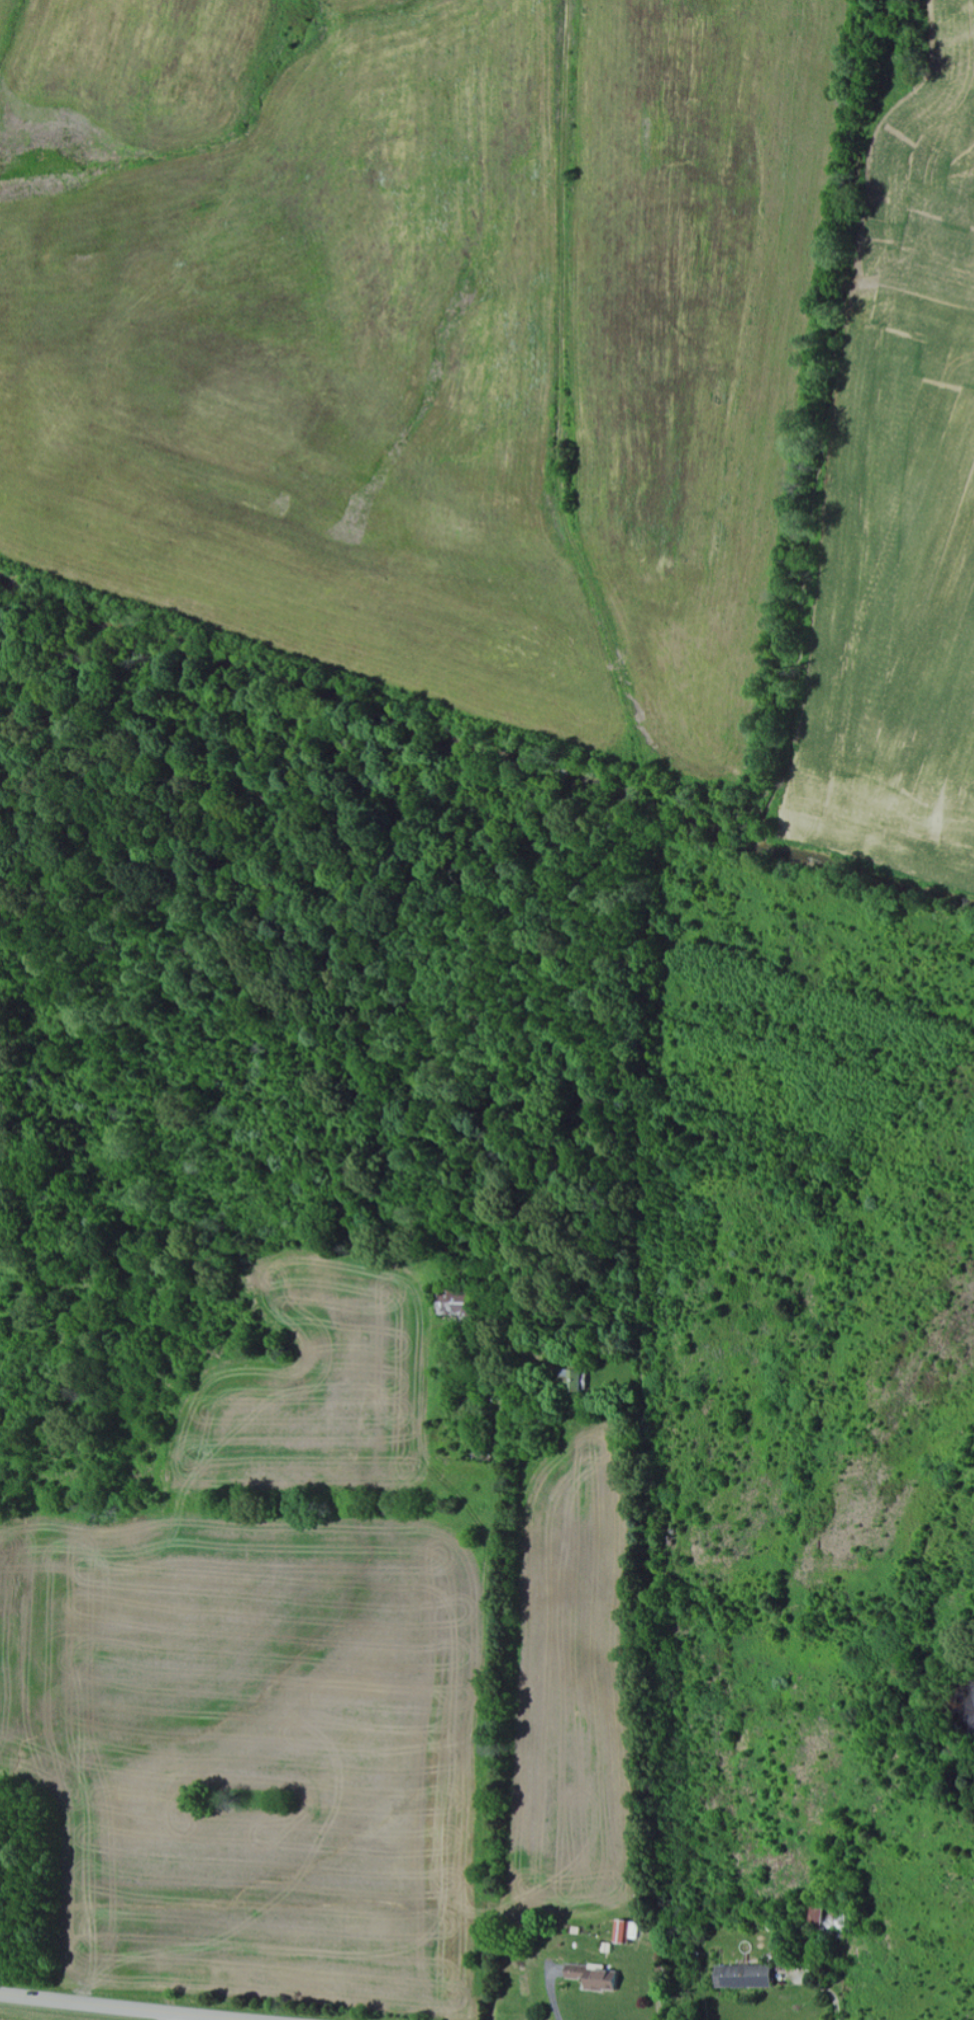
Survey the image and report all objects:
road: (662, 1000)
building: (630, 1931)
building: (749, 1977)
building: (598, 1978)
road: (115, 2007)

